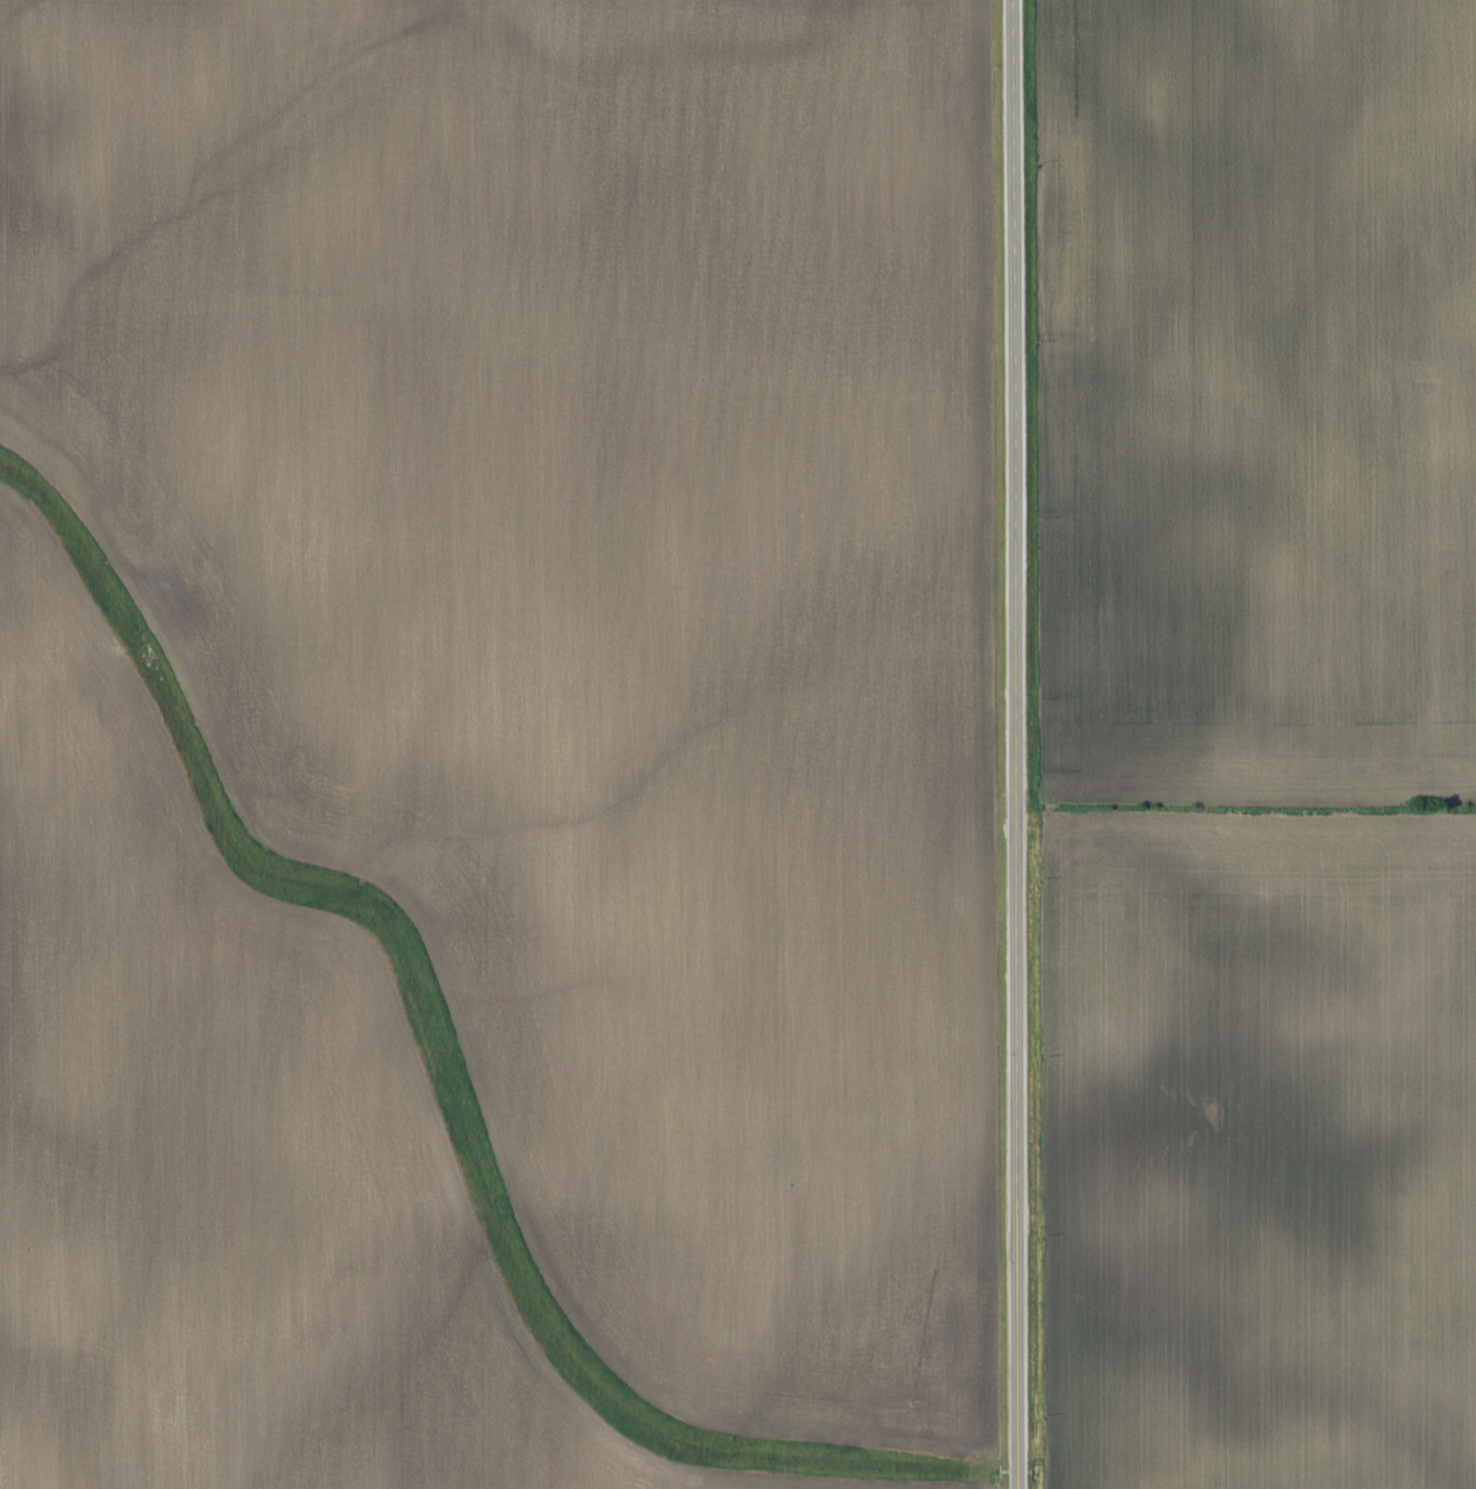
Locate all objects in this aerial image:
road: (1014, 744)

